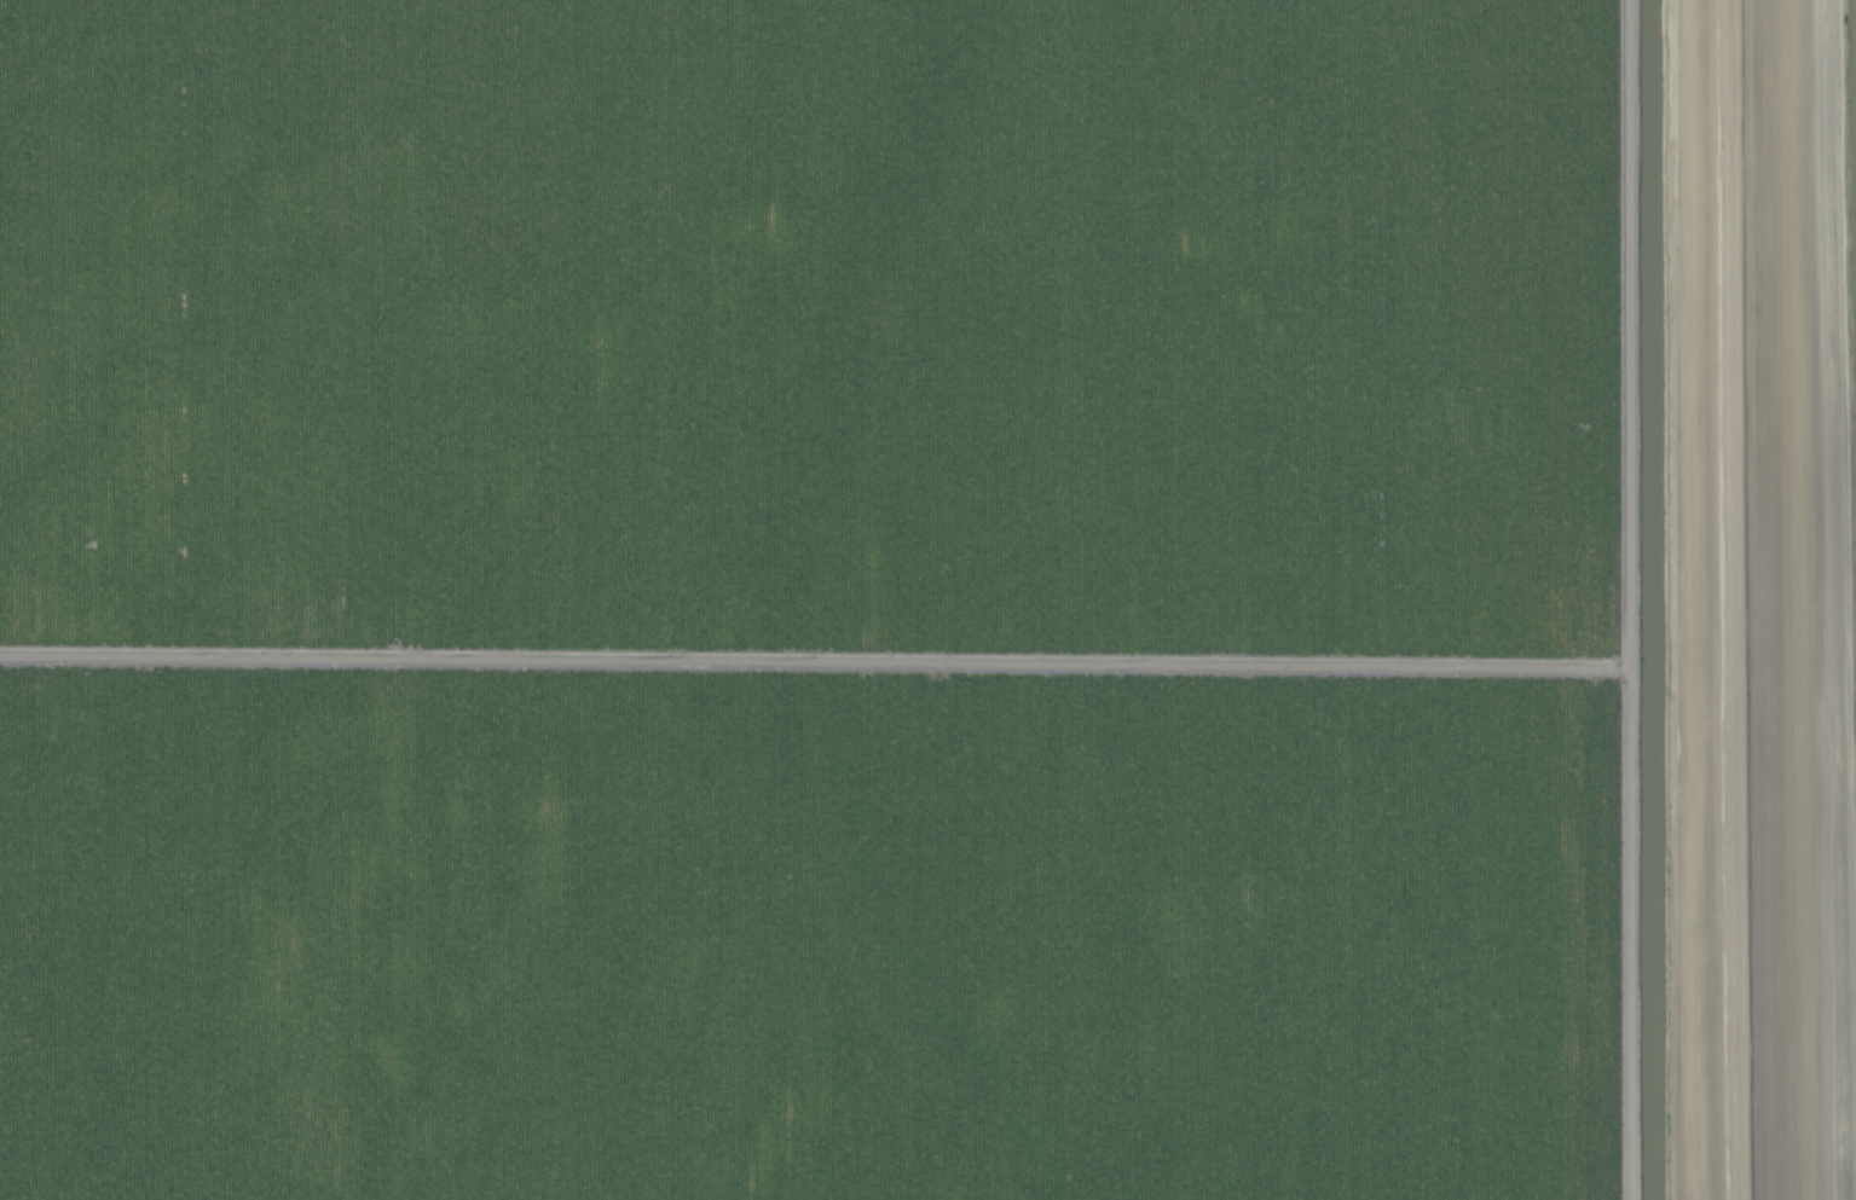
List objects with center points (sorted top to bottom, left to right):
crop: (927, 599)
road: (1723, 599)

